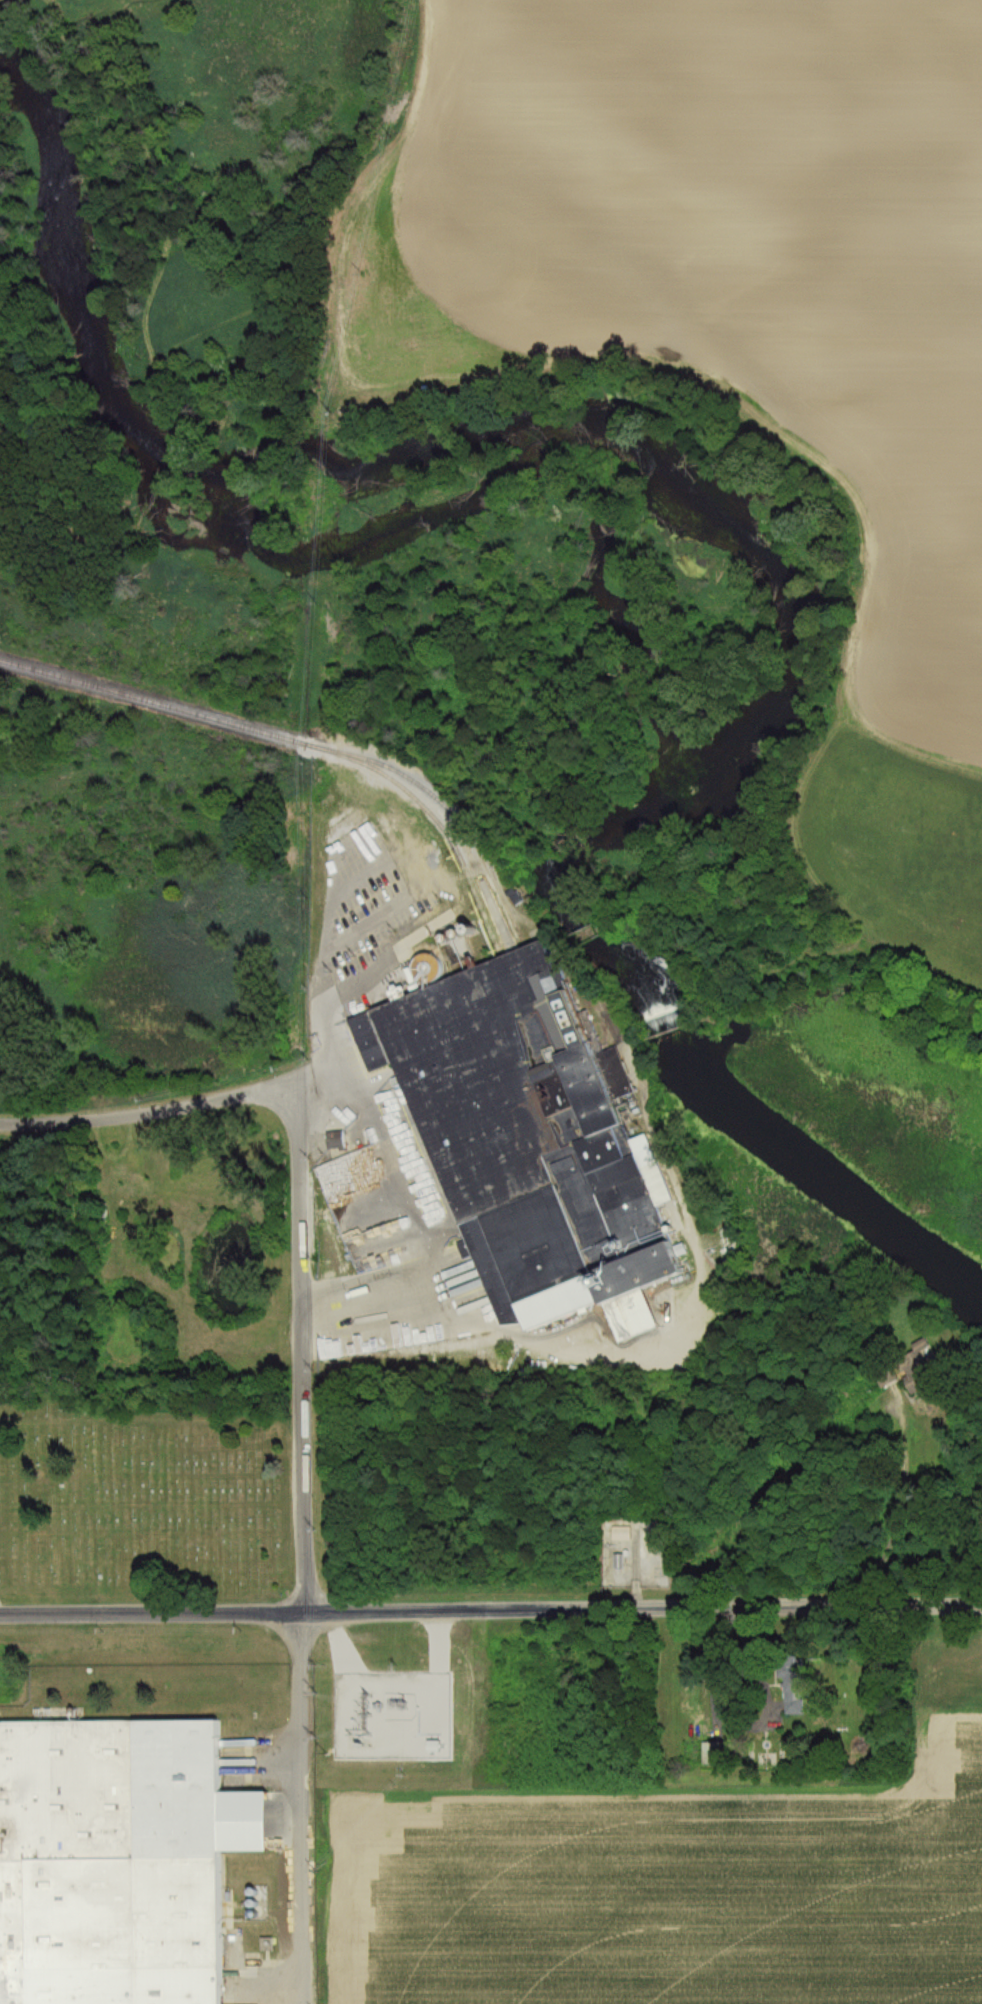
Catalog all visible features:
river: (709, 530)
railway: (299, 740)
railway: (449, 811)
road: (886, 967)
road: (267, 1089)
building: (331, 1141)
building: (525, 1145)
road: (299, 1347)
building: (912, 1369)
park: (143, 1493)
building: (616, 1562)
road: (644, 1609)
road: (153, 1612)
building: (790, 1702)
road: (735, 1722)
building: (712, 1754)
road: (299, 1807)
building: (113, 1863)
crop: (673, 1903)

